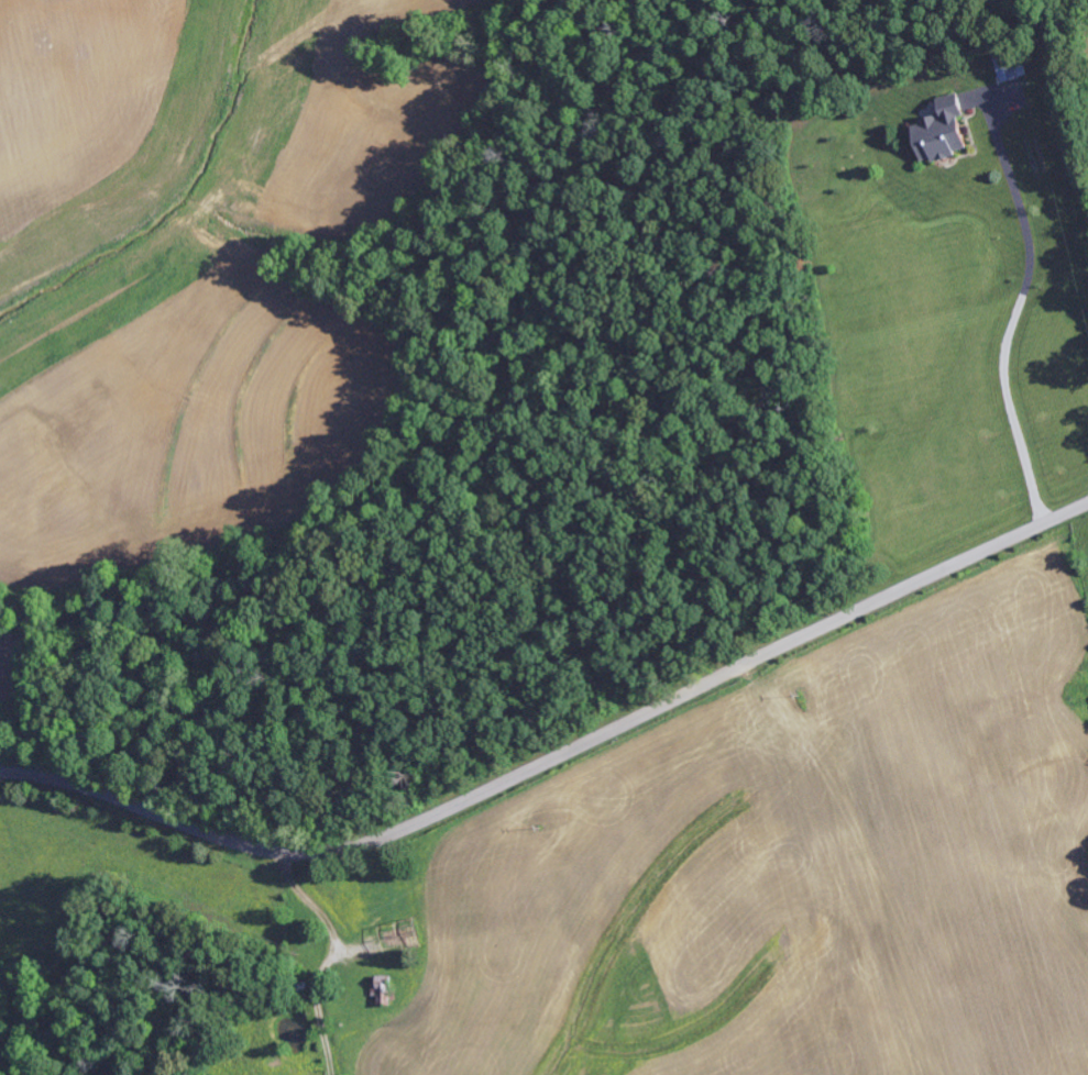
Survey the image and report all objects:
building: (1013, 67)
building: (945, 133)
road: (557, 754)
building: (403, 937)
building: (385, 989)

